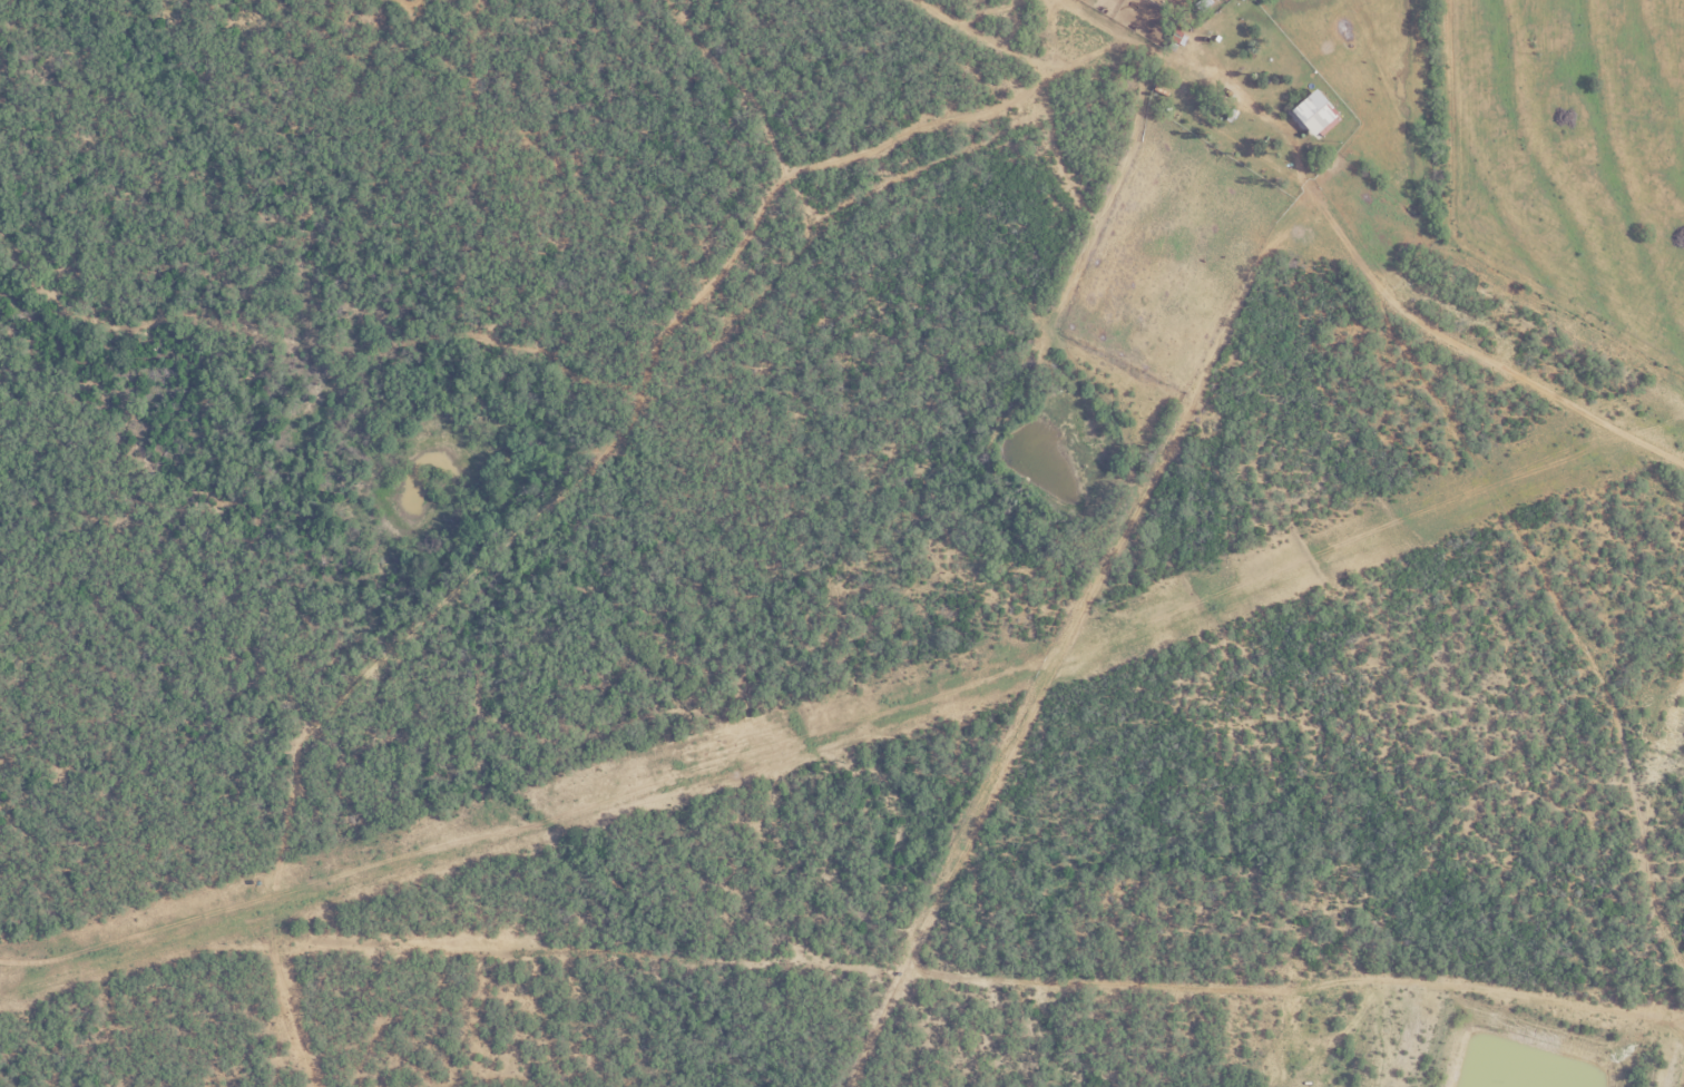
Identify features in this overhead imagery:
building: (1206, 0)
building: (1309, 112)

